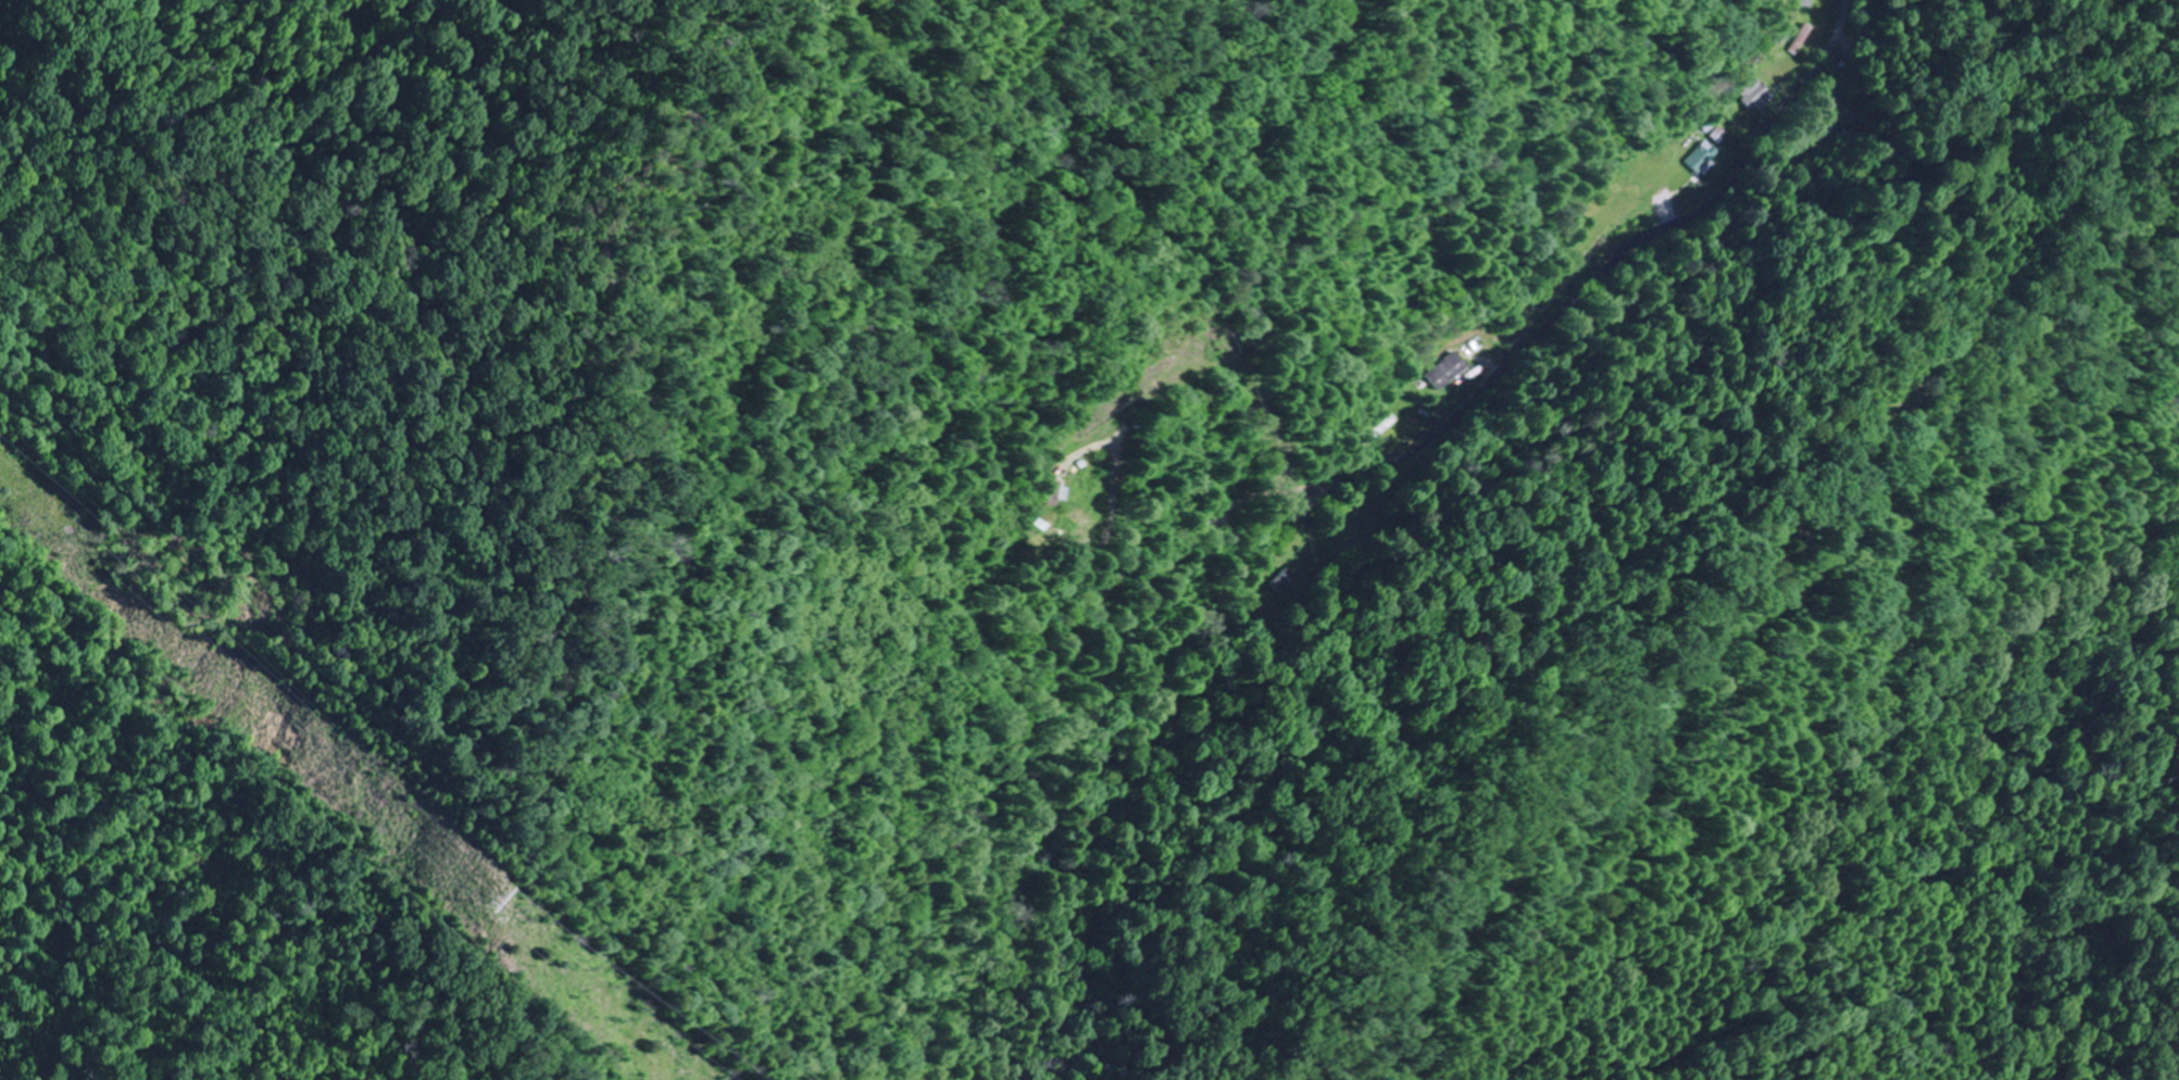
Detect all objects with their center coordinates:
building: (1807, 3)
building: (1801, 38)
building: (1754, 93)
building: (1696, 158)
road: (1620, 256)
building: (1447, 372)
building: (1045, 493)
road: (1724, 658)

